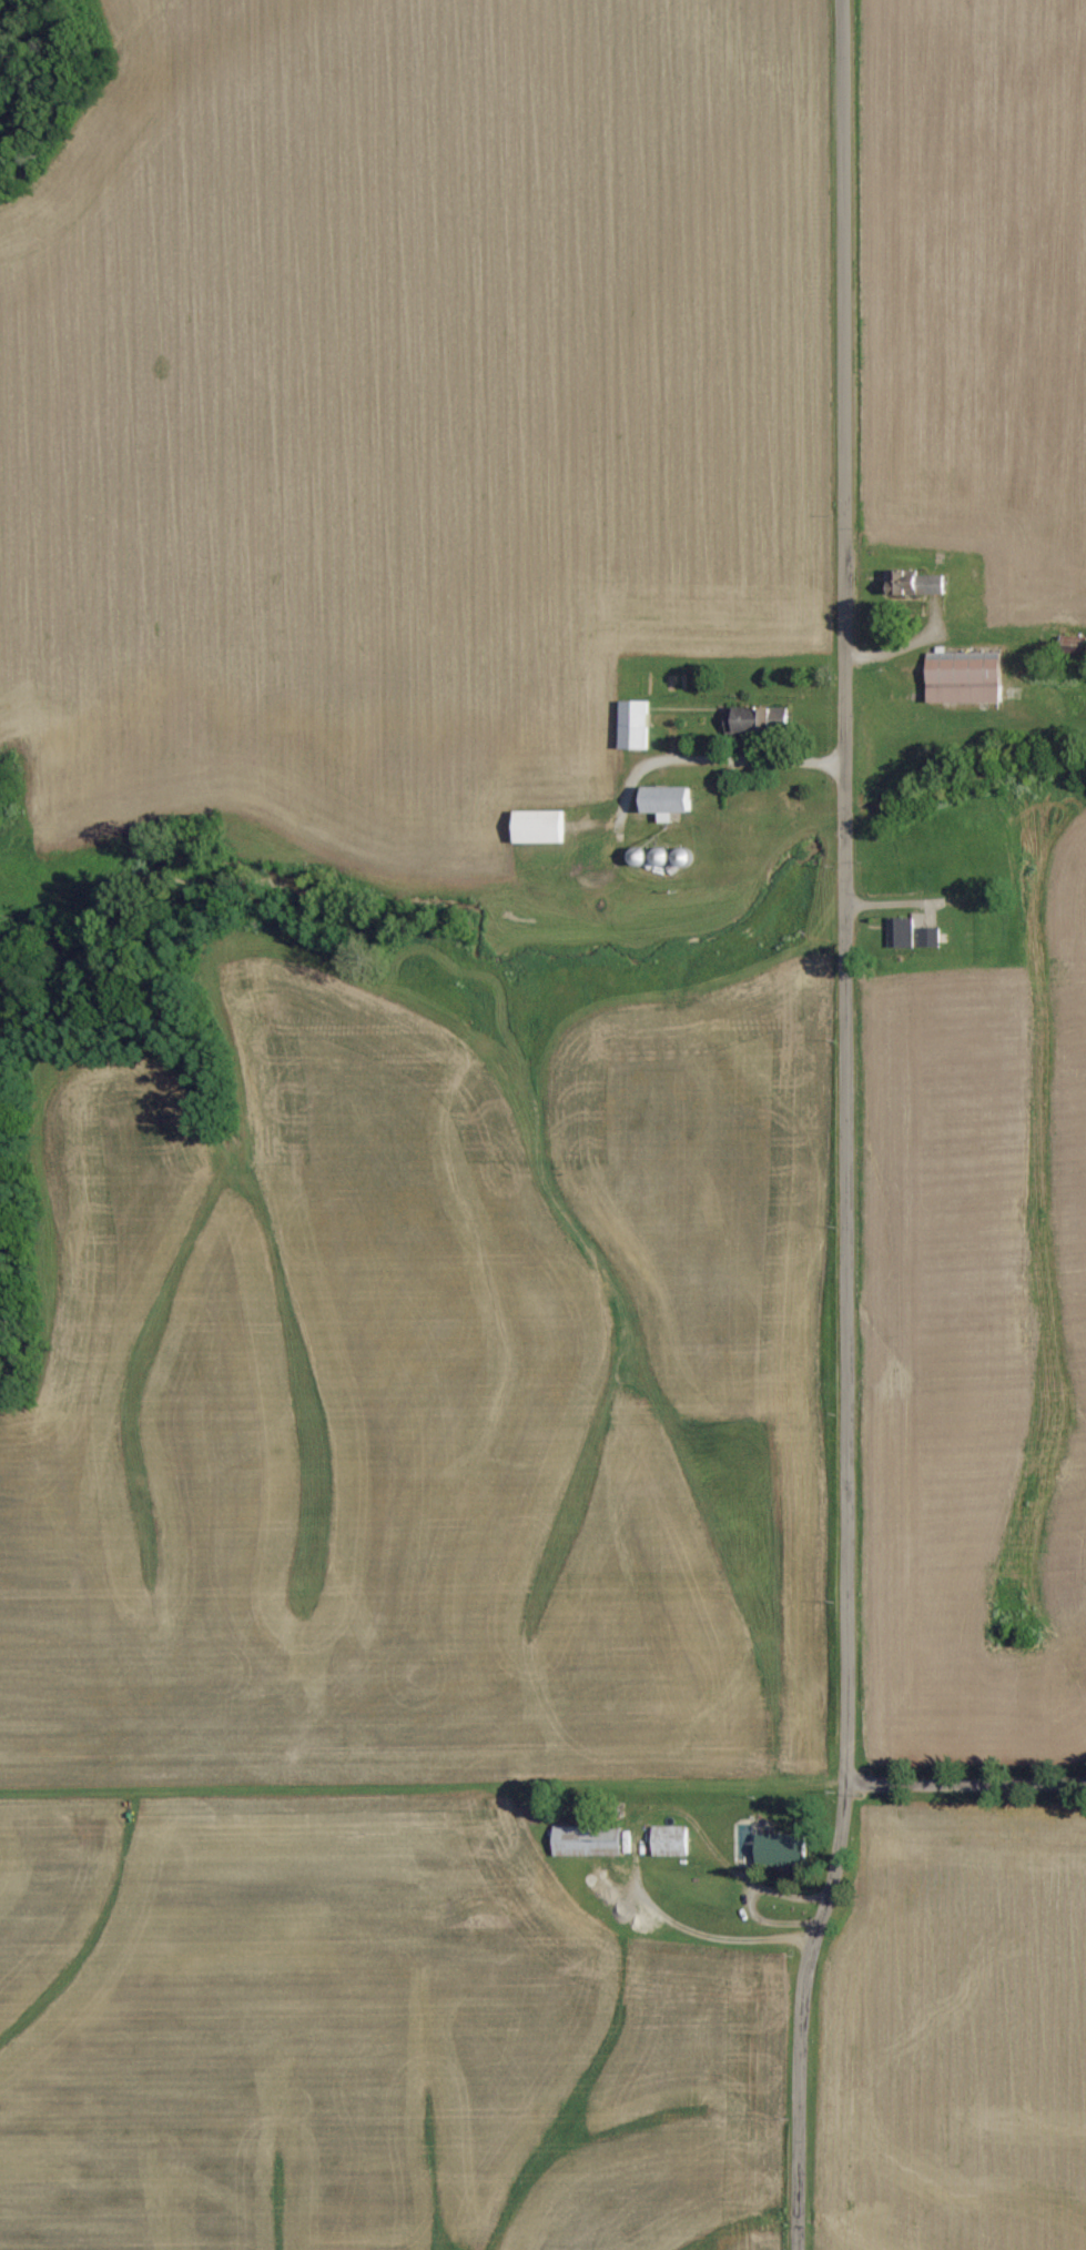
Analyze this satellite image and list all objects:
building: (920, 585)
building: (965, 677)
building: (636, 725)
building: (669, 801)
building: (540, 827)
building: (900, 932)
building: (930, 937)
road: (856, 1128)
road: (970, 1800)
road: (631, 1839)
building: (588, 1843)
building: (671, 1843)
building: (783, 1850)
road: (765, 1921)

